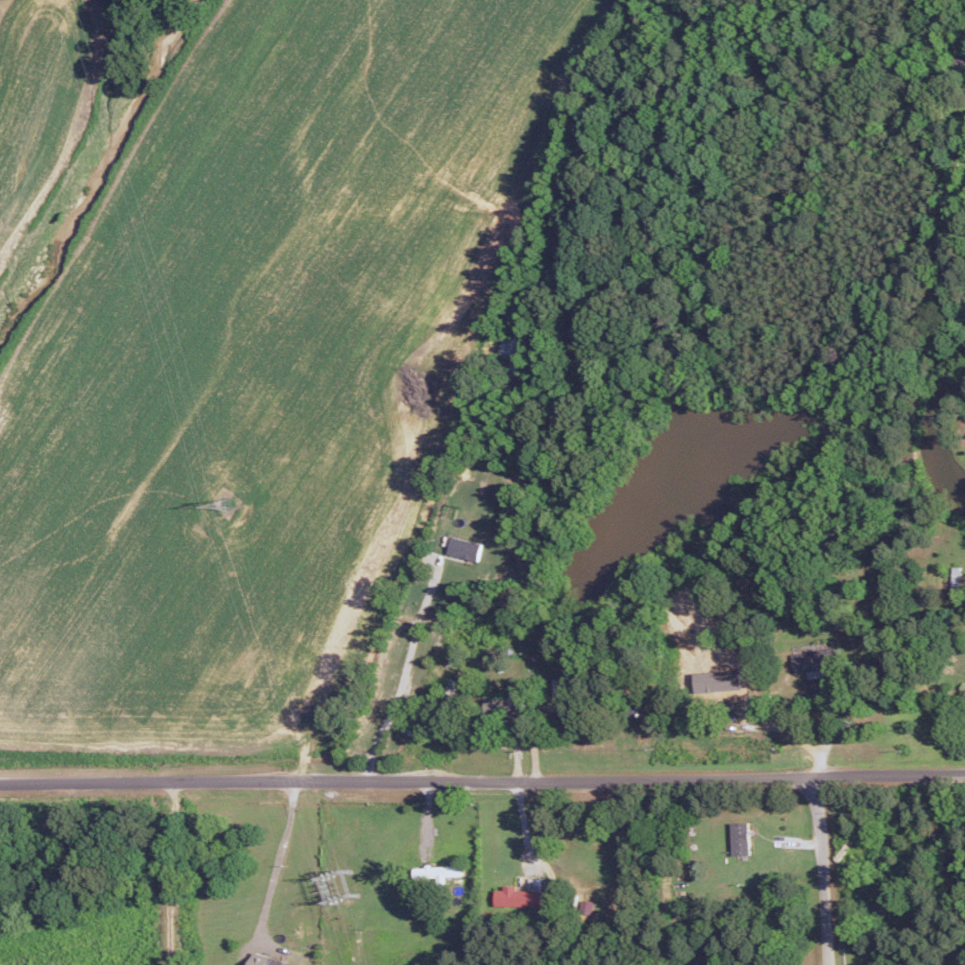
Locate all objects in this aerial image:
building: (511, 345)
power tower: (223, 505)
building: (464, 547)
building: (955, 578)
building: (815, 660)
road: (397, 669)
building: (717, 680)
building: (504, 706)
road: (824, 733)
road: (482, 778)
building: (741, 837)
road: (271, 865)
building: (436, 871)
road: (819, 872)
power tower: (339, 888)
building: (516, 896)
building: (586, 906)
building: (267, 960)

